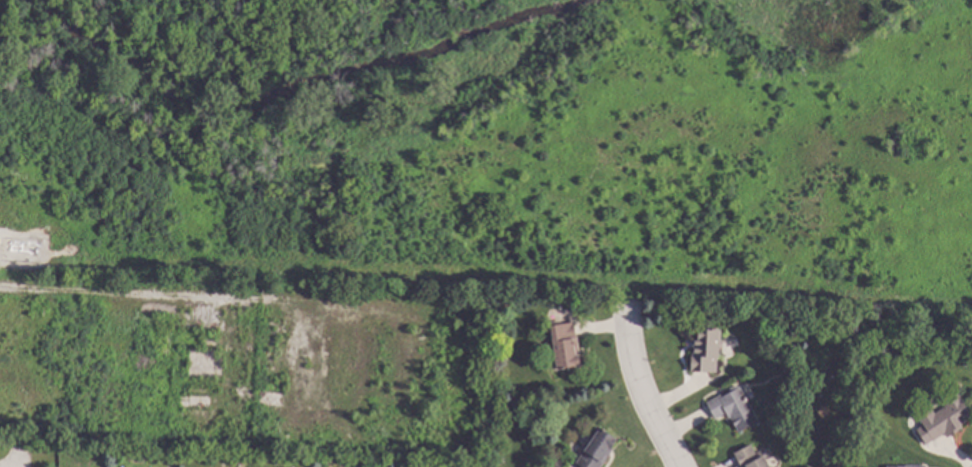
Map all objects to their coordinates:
building: (34, 247)
building: (707, 353)
building: (564, 355)
road: (644, 390)
building: (735, 408)
building: (947, 417)
building: (66, 448)
building: (597, 449)
building: (751, 458)
building: (907, 466)

